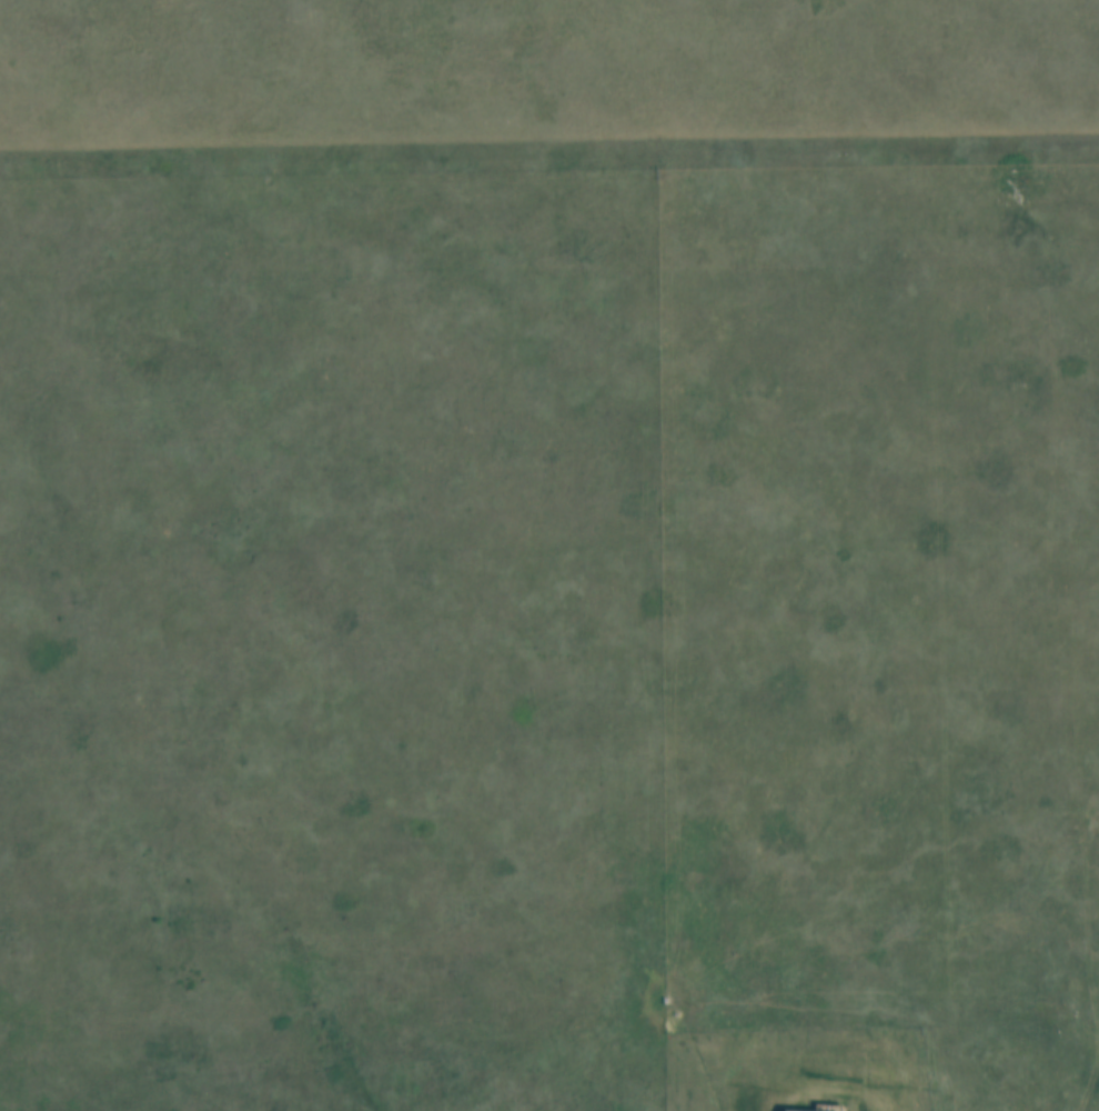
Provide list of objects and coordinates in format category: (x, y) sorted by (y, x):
building: (809, 1109)

